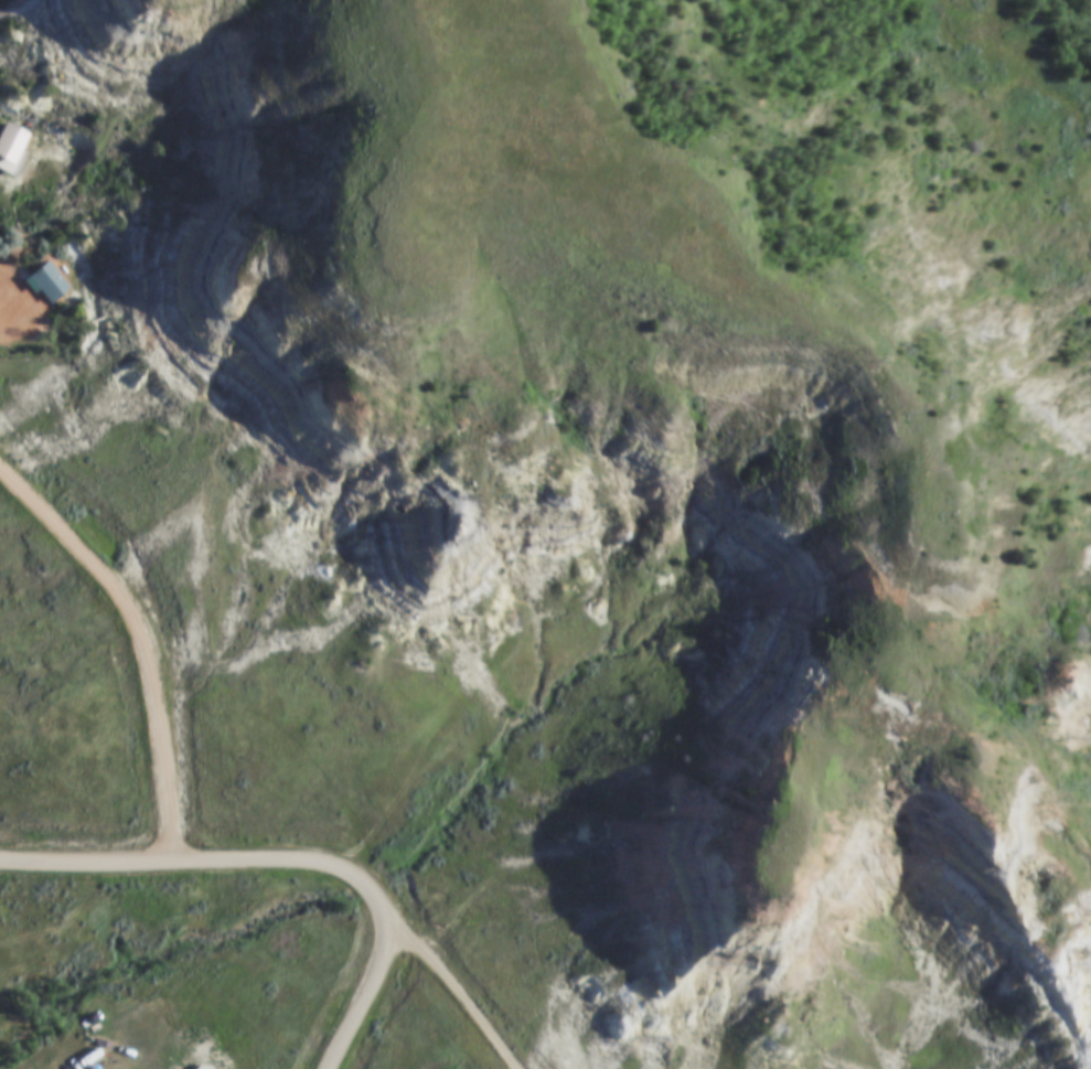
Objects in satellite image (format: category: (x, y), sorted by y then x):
road: (1020, 63)
building: (6, 143)
road: (858, 359)
road: (139, 641)
road: (207, 860)
road: (460, 991)
road: (370, 994)

